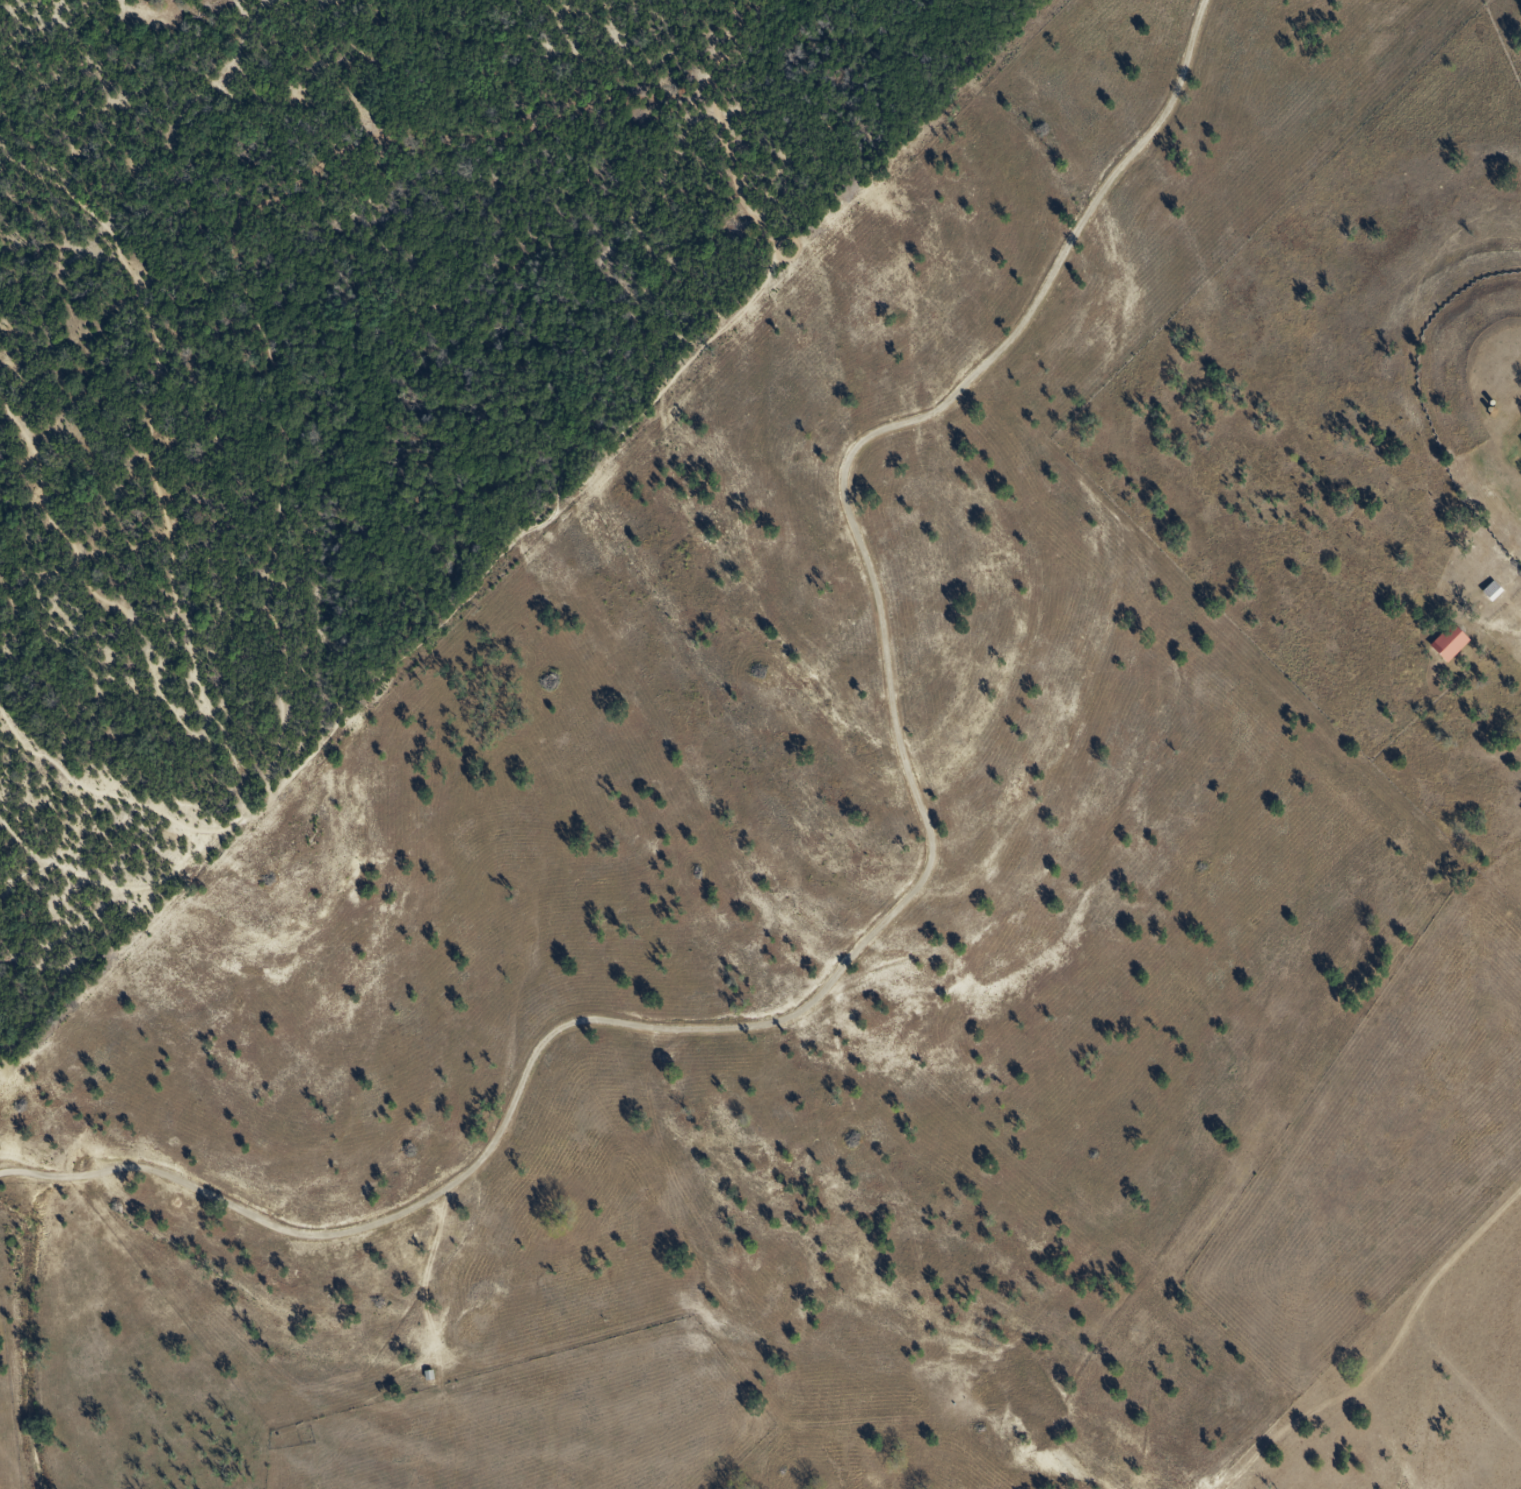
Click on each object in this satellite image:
park: (352, 368)
building: (1496, 593)
building: (1454, 644)
road: (906, 904)

